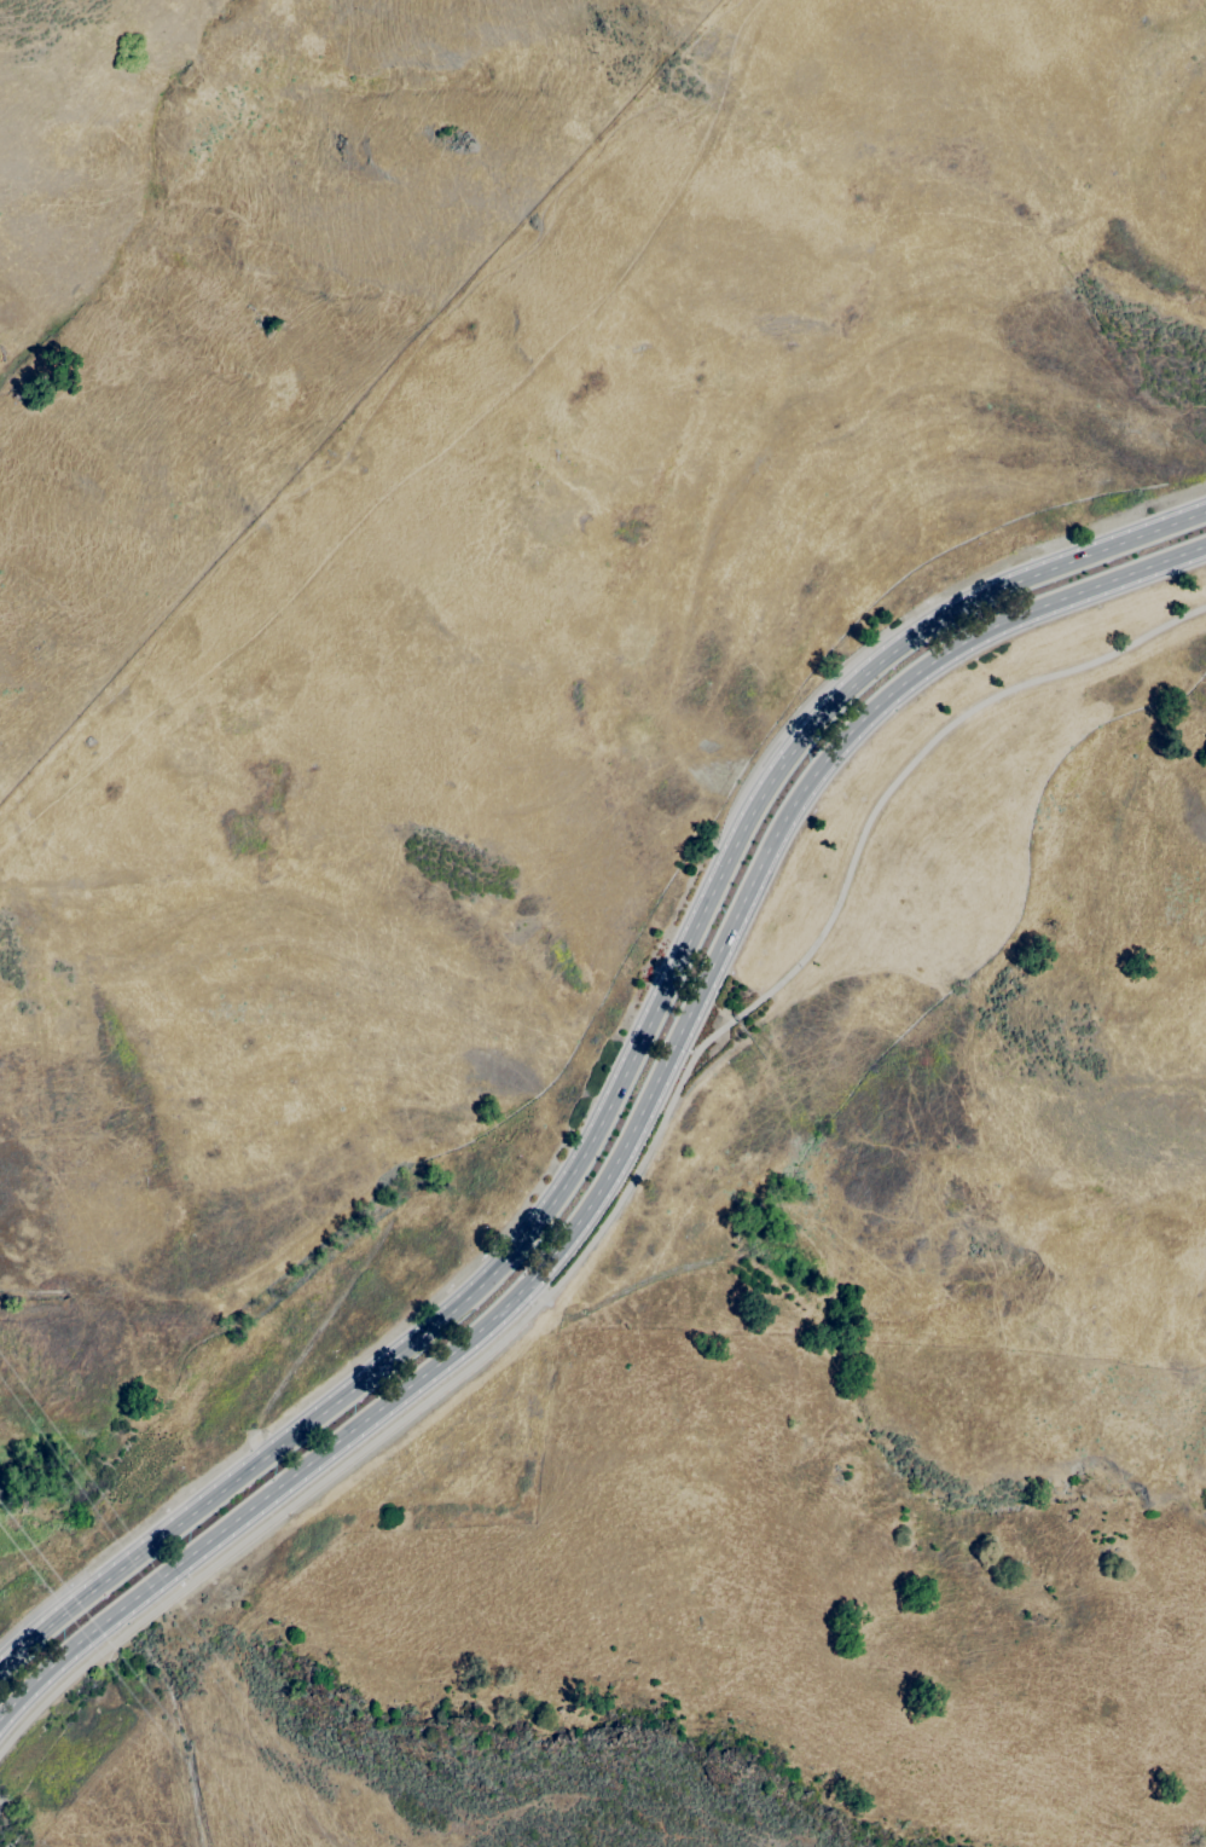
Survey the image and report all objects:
road: (618, 1085)
road: (630, 1134)
road: (628, 1185)

